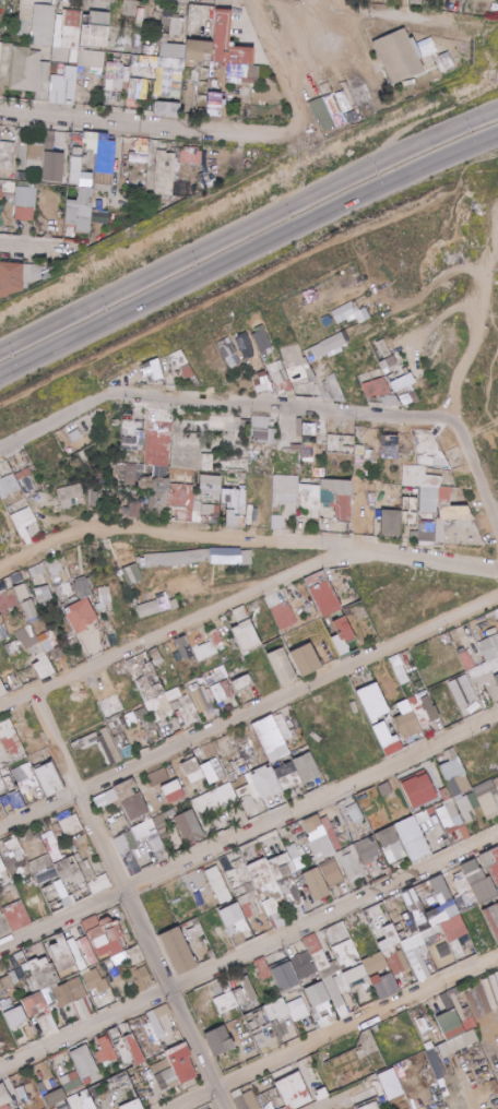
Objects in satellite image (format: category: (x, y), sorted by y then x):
road: (274, 69)

